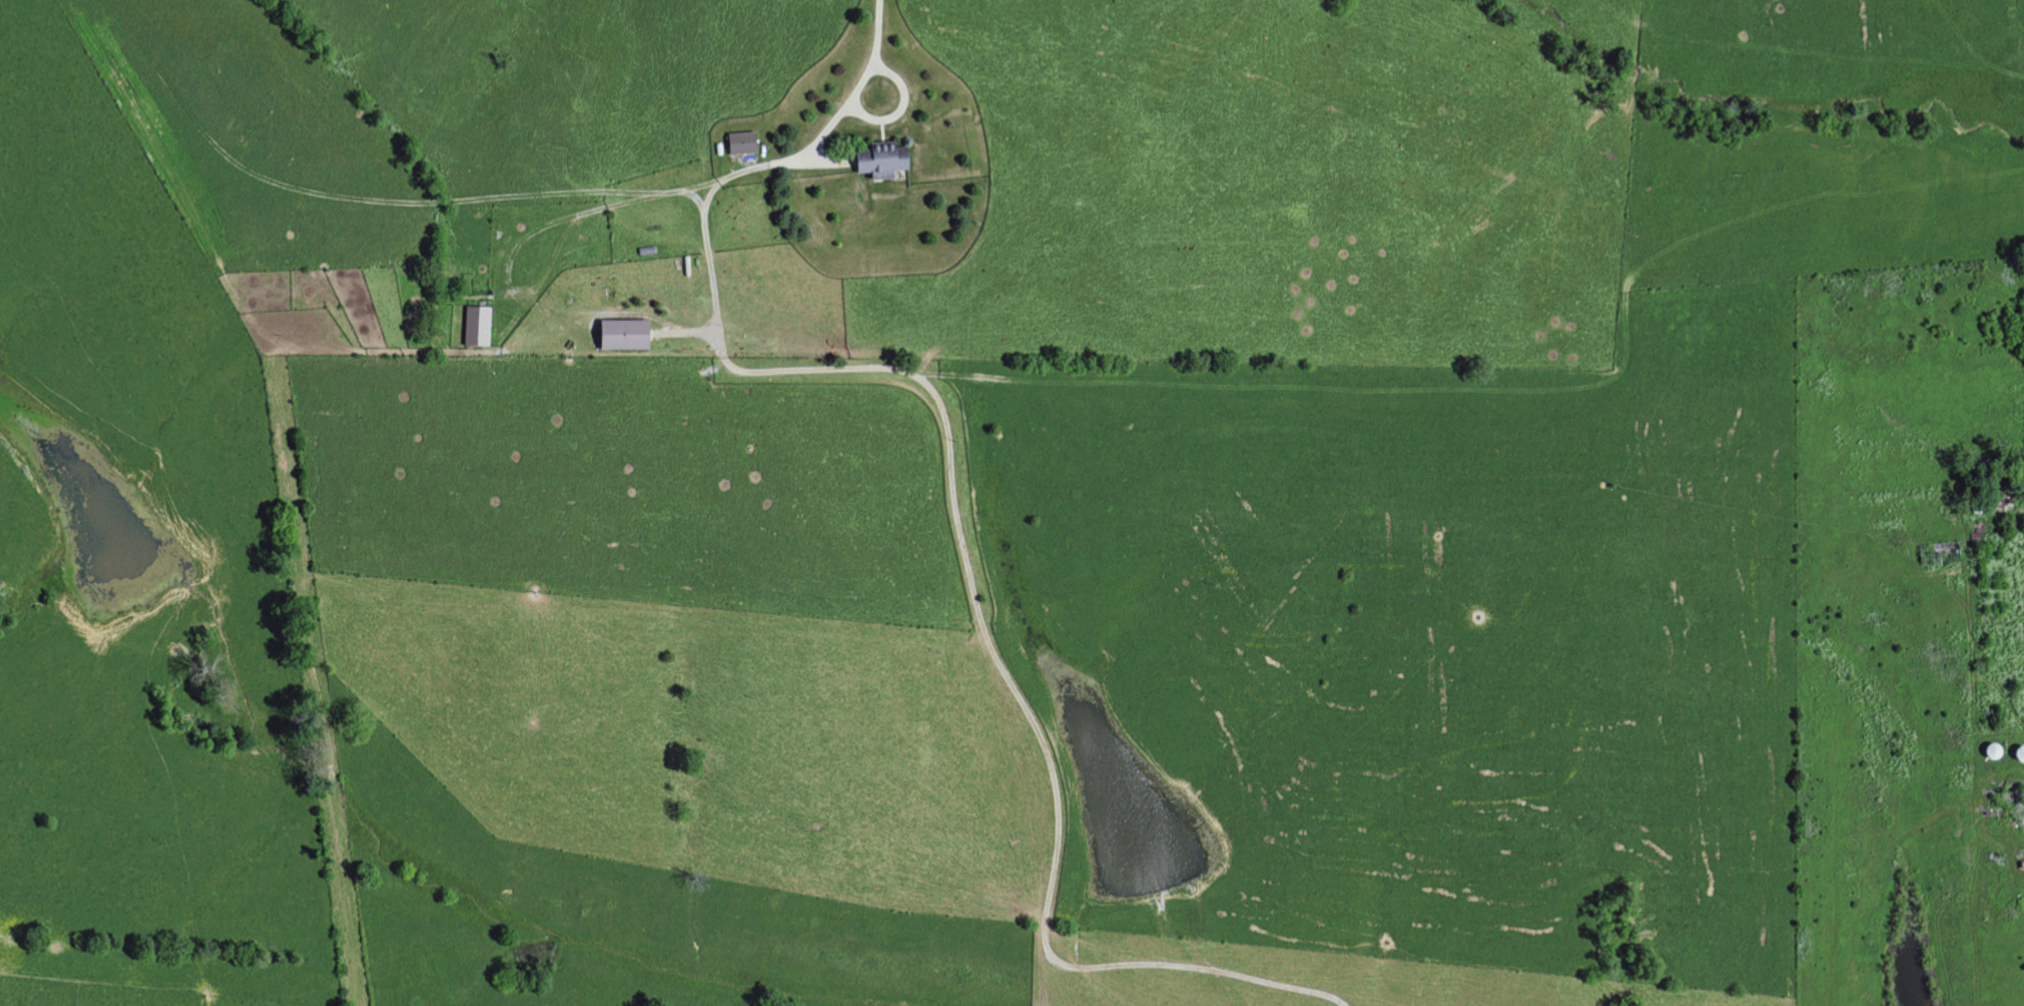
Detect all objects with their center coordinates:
road: (856, 91)
road: (900, 108)
building: (737, 142)
building: (877, 161)
building: (474, 324)
building: (616, 332)

